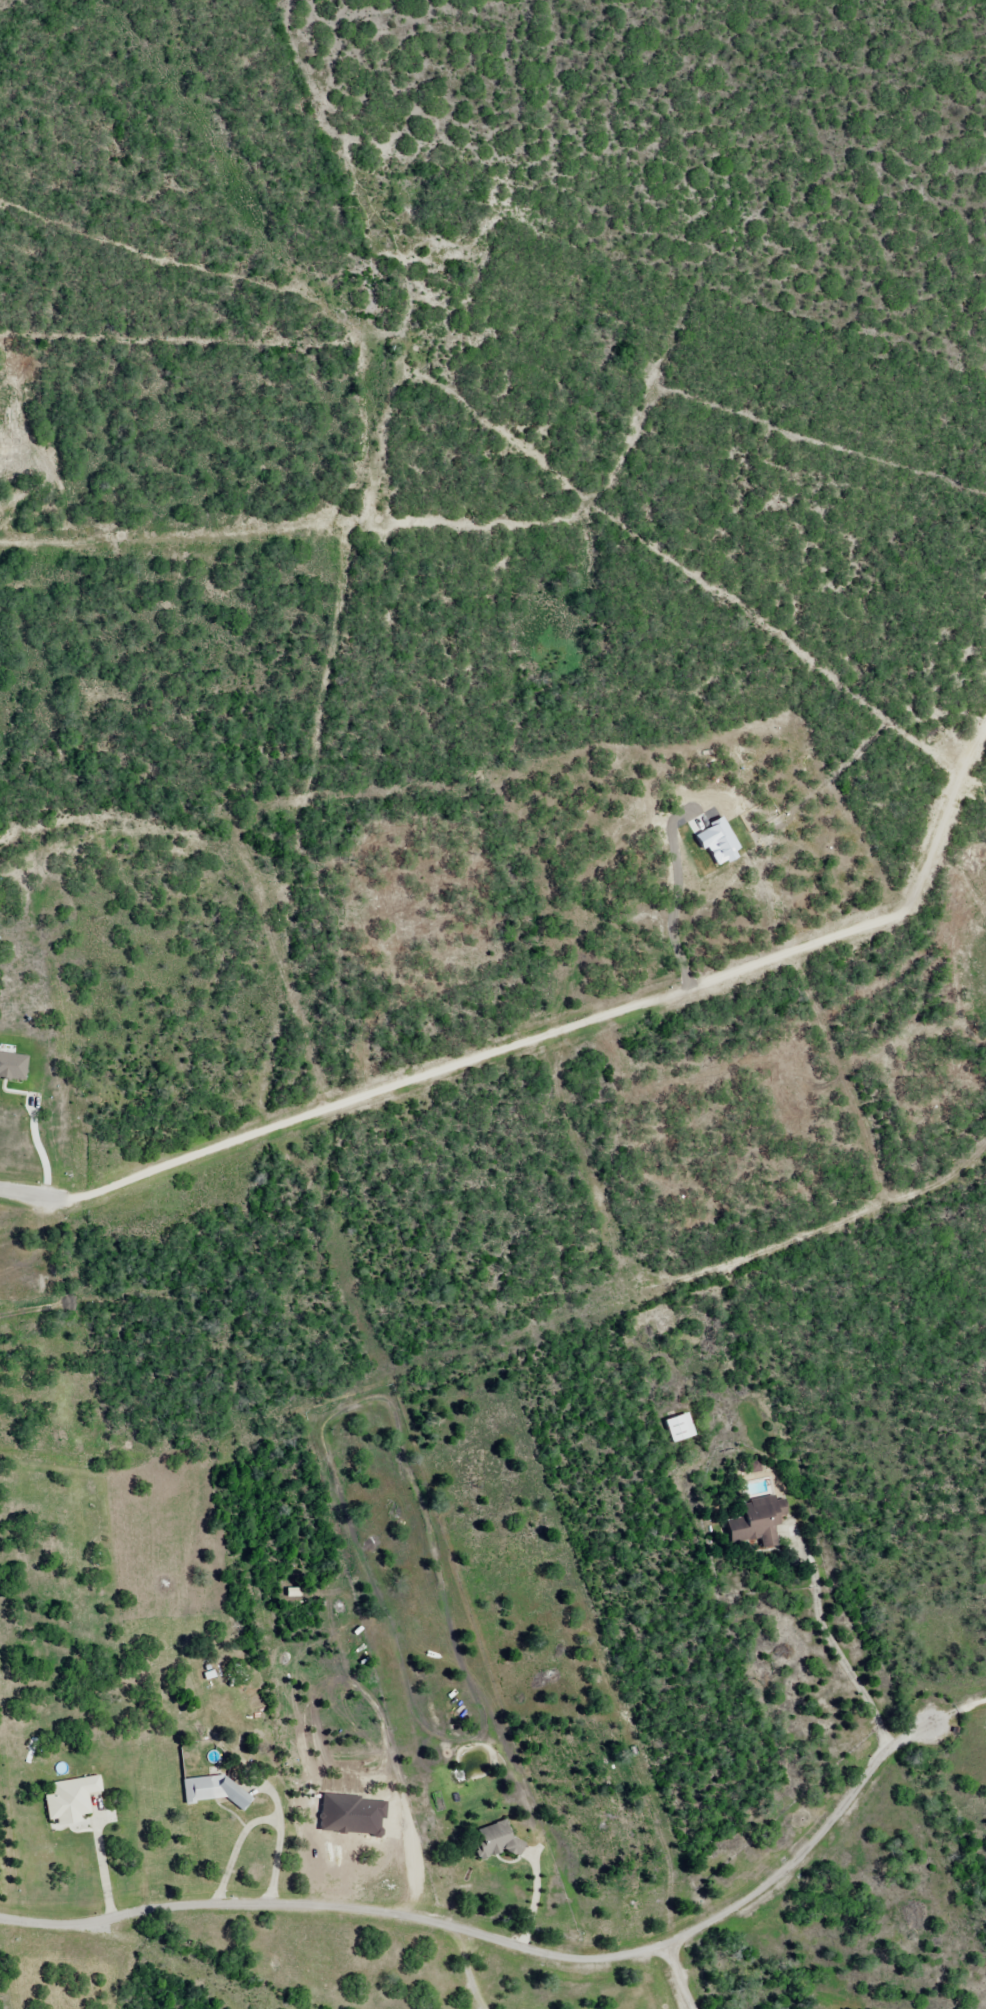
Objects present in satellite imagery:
road: (167, 176)
road: (38, 1146)
road: (33, 1189)
building: (685, 1428)
road: (959, 1711)
road: (263, 1823)
road: (103, 1863)
road: (507, 1943)

